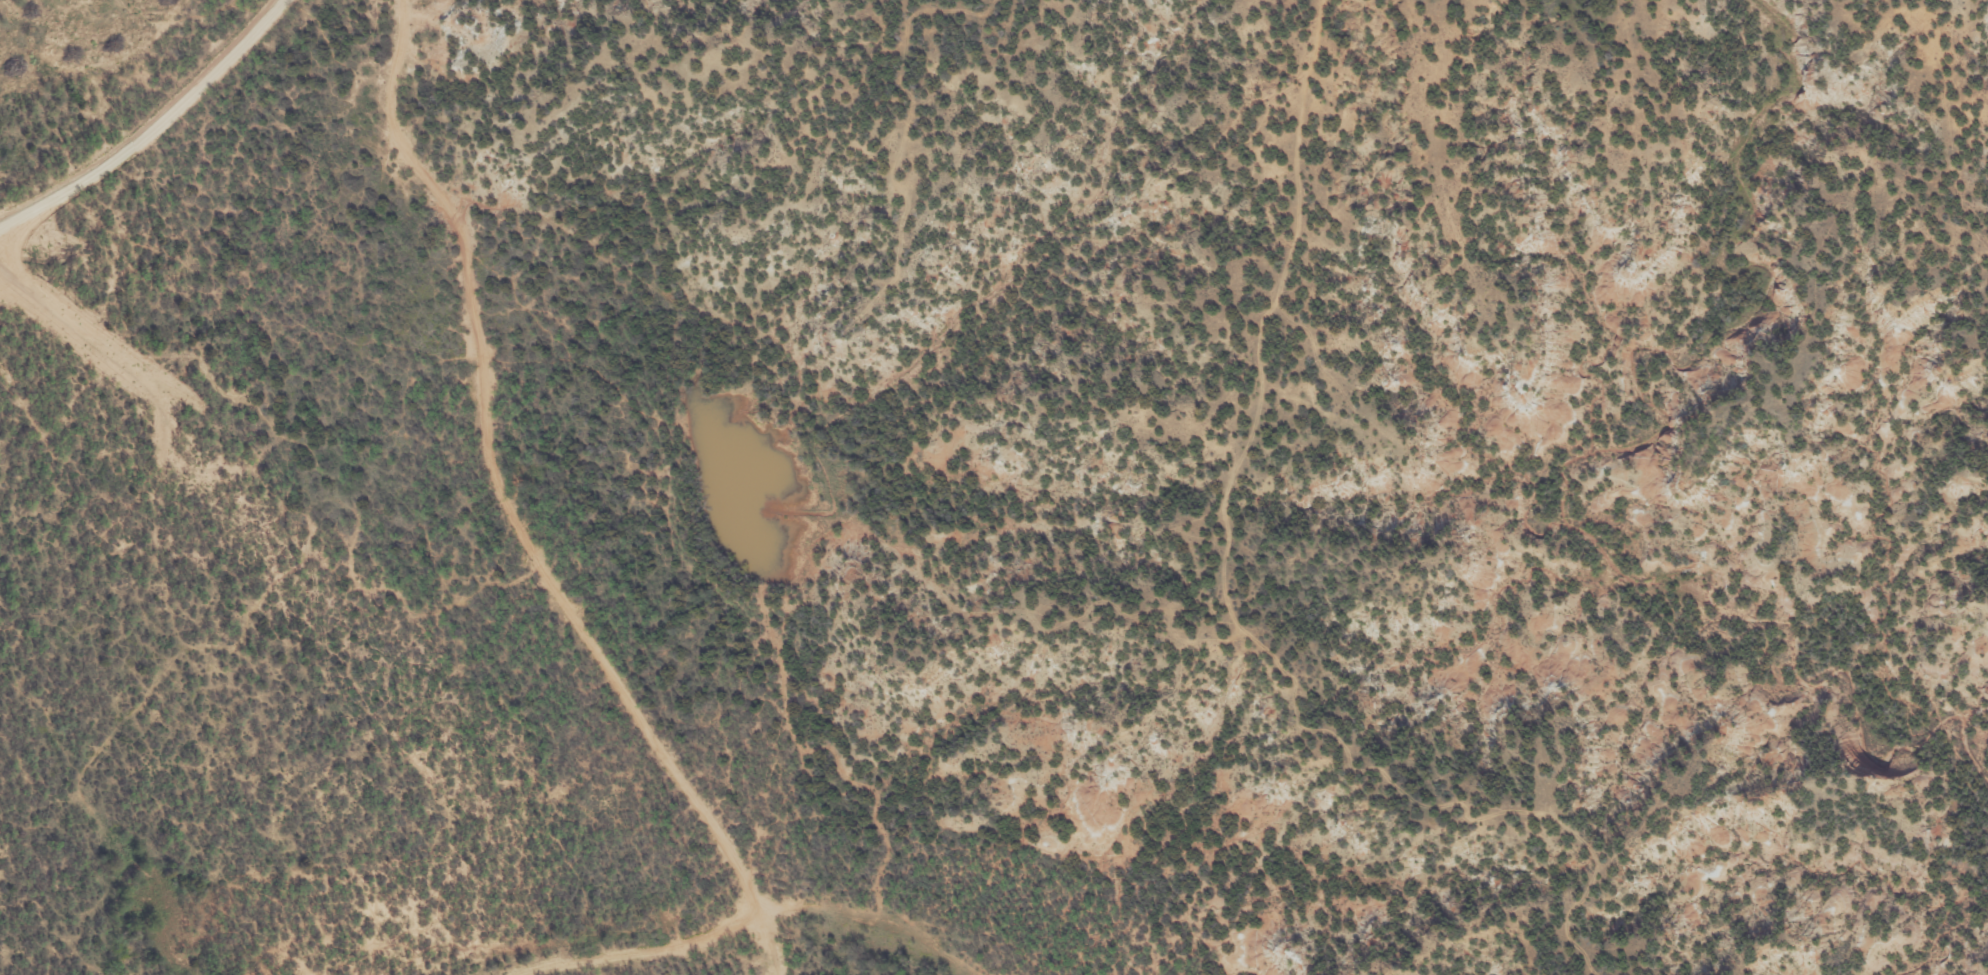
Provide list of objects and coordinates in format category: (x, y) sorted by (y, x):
road: (151, 126)
road: (451, 201)

